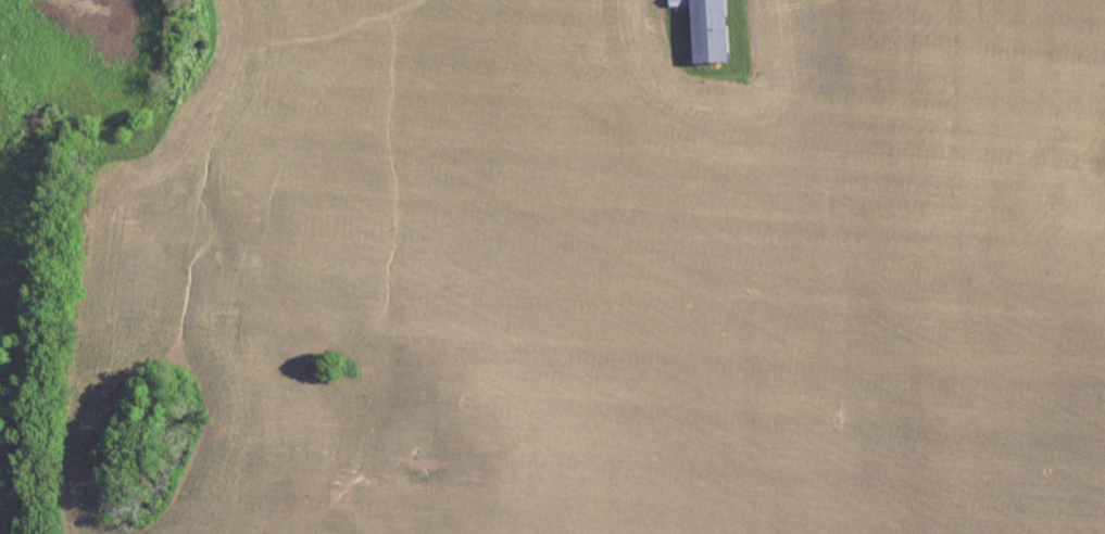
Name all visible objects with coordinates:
building: (680, 3)
building: (711, 31)

